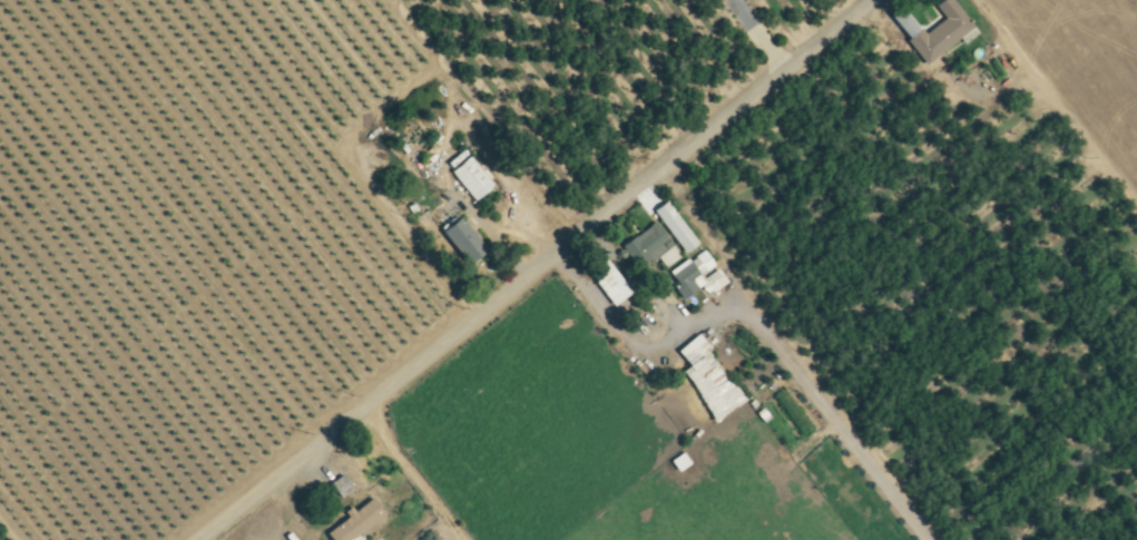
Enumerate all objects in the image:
building: (937, 31)
road: (759, 33)
building: (467, 177)
building: (672, 226)
building: (457, 239)
building: (647, 247)
road: (522, 269)
building: (694, 275)
building: (604, 281)
building: (704, 377)
building: (676, 461)
building: (336, 485)
building: (351, 521)

